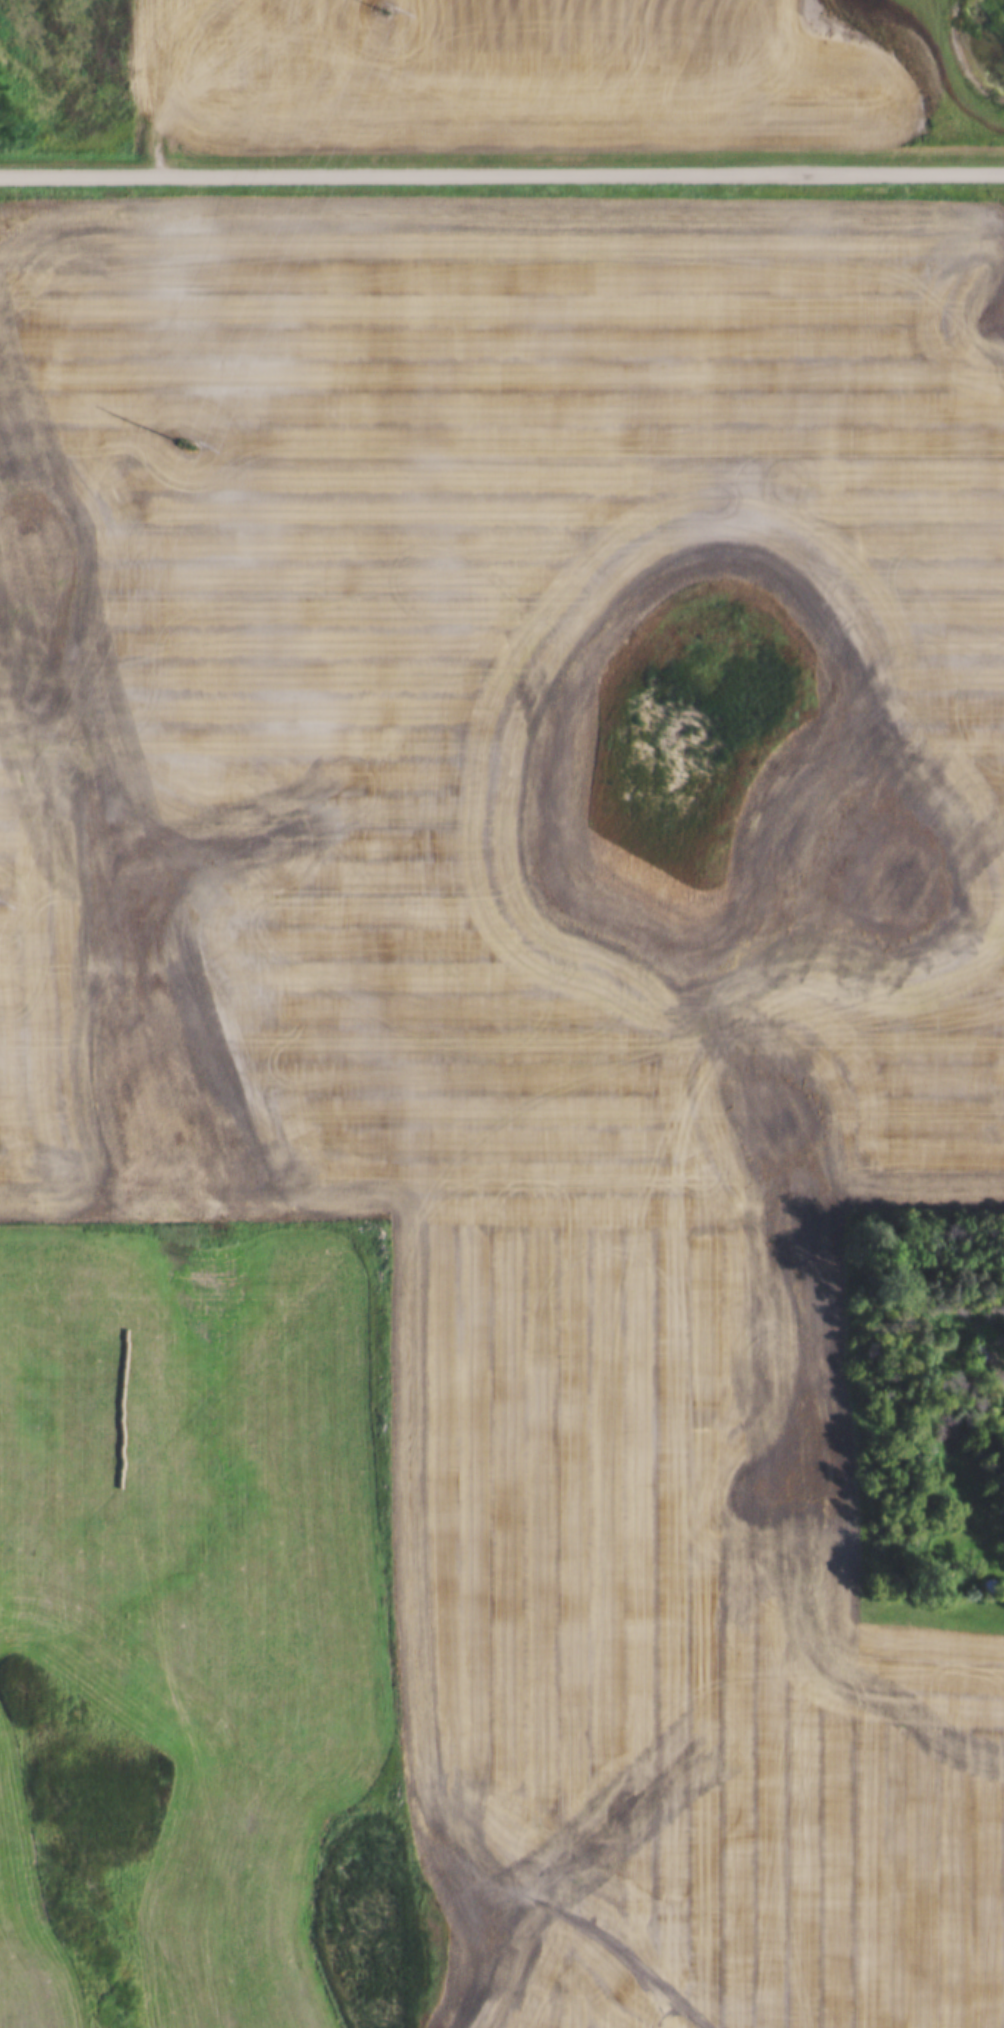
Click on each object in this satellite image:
power tower: (380, 10)
road: (153, 86)
road: (501, 171)
power tower: (186, 441)
building: (989, 1585)
building: (1002, 1586)

